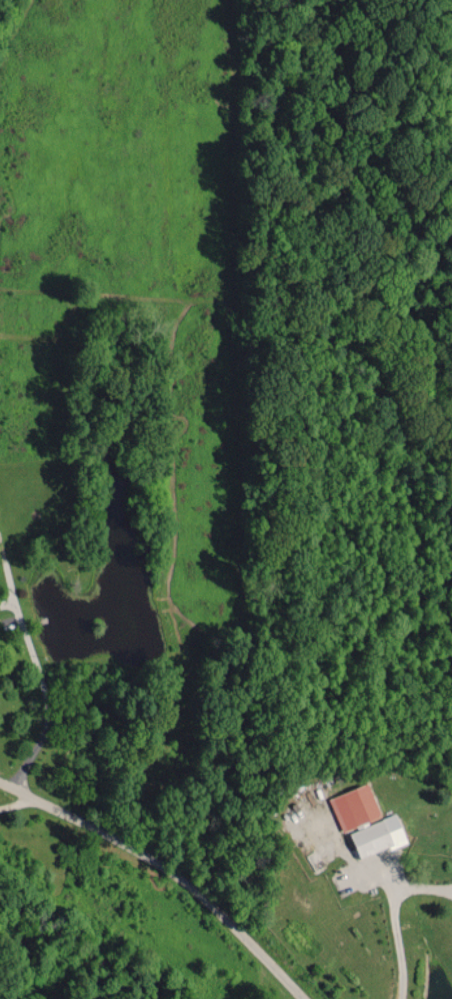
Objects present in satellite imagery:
road: (43, 686)
road: (15, 799)
building: (355, 806)
building: (379, 835)
road: (167, 868)
road: (398, 943)

